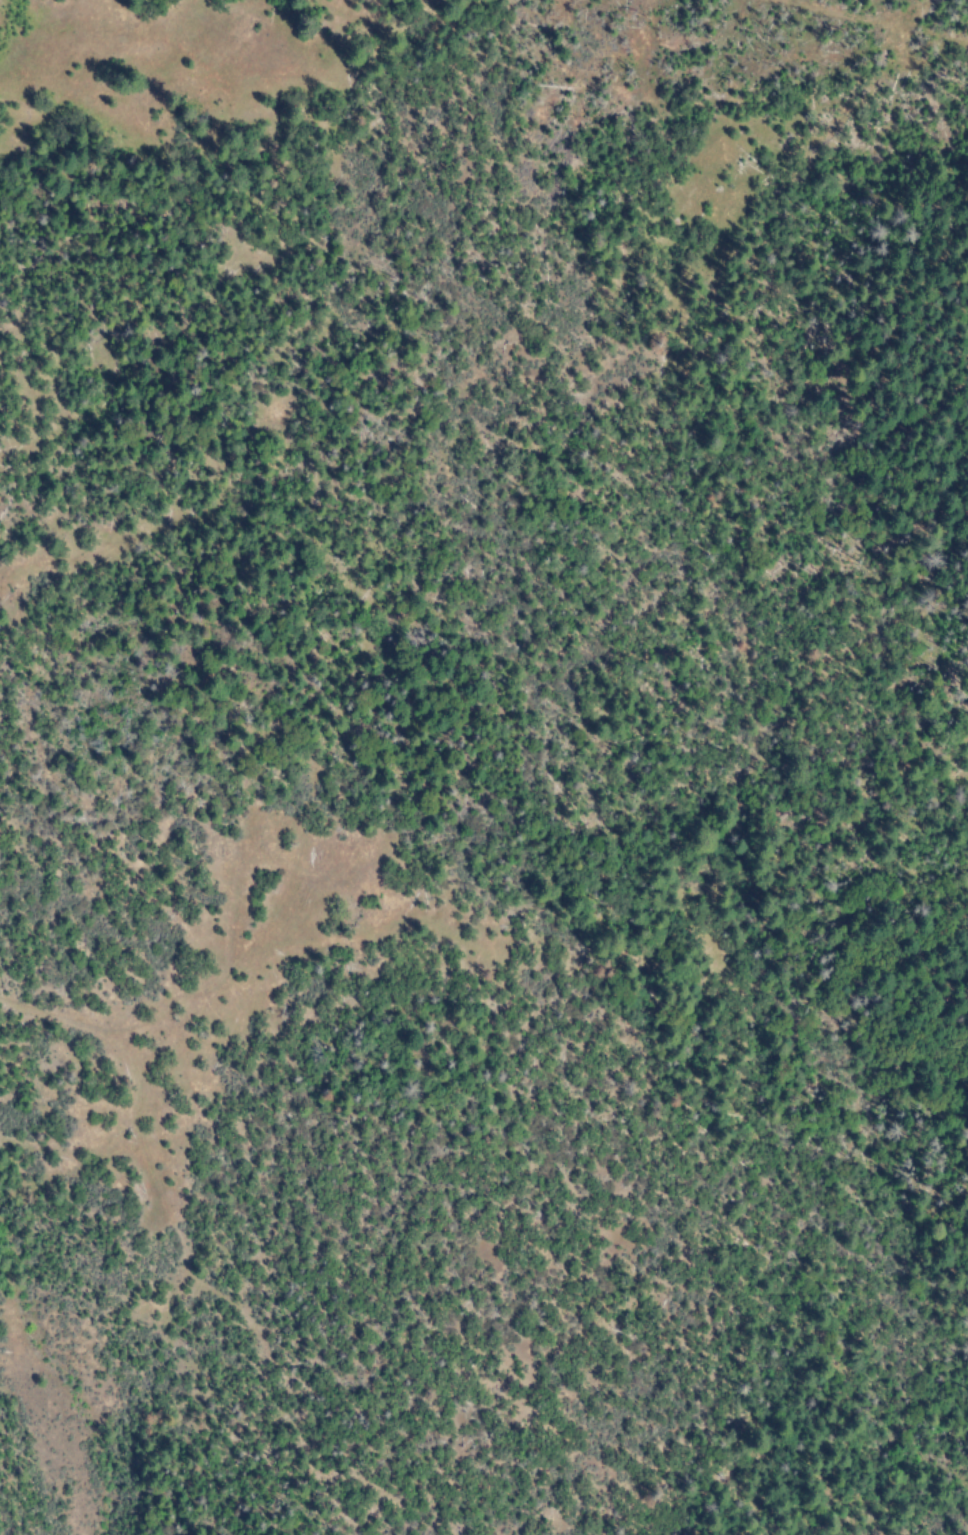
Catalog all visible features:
road: (409, 202)

